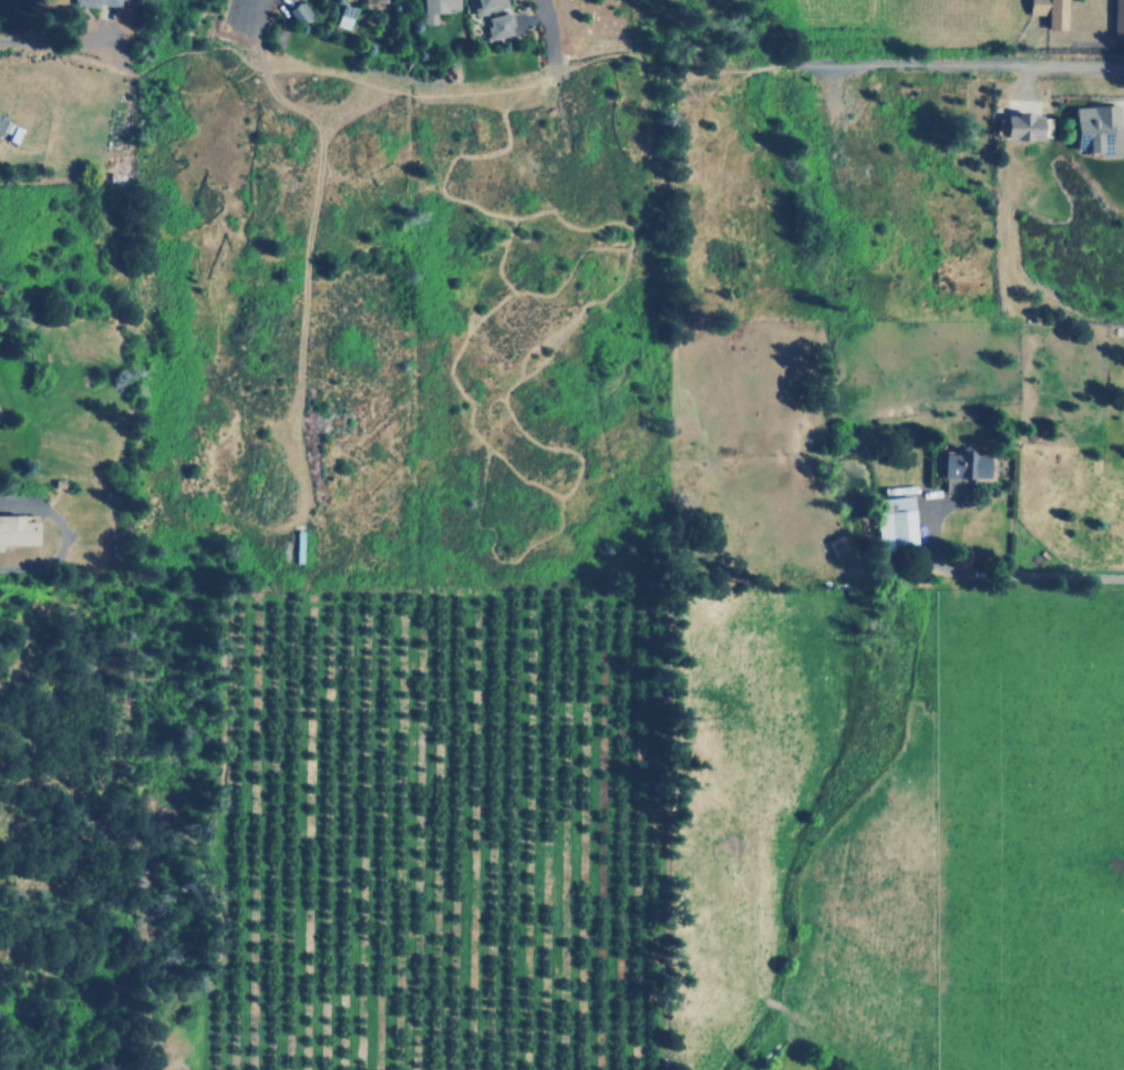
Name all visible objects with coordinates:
building: (97, 2)
building: (489, 6)
building: (440, 8)
building: (1046, 11)
road: (249, 12)
building: (302, 12)
building: (1116, 16)
building: (501, 24)
road: (538, 35)
road: (3, 37)
road: (250, 49)
park: (395, 54)
road: (975, 64)
road: (413, 95)
building: (1017, 126)
building: (7, 127)
building: (1093, 128)
road: (657, 154)
road: (527, 181)
road: (576, 232)
road: (478, 282)
road: (302, 297)
road: (535, 350)
building: (958, 469)
road: (513, 480)
building: (893, 522)
building: (18, 528)
building: (295, 551)
road: (488, 556)

